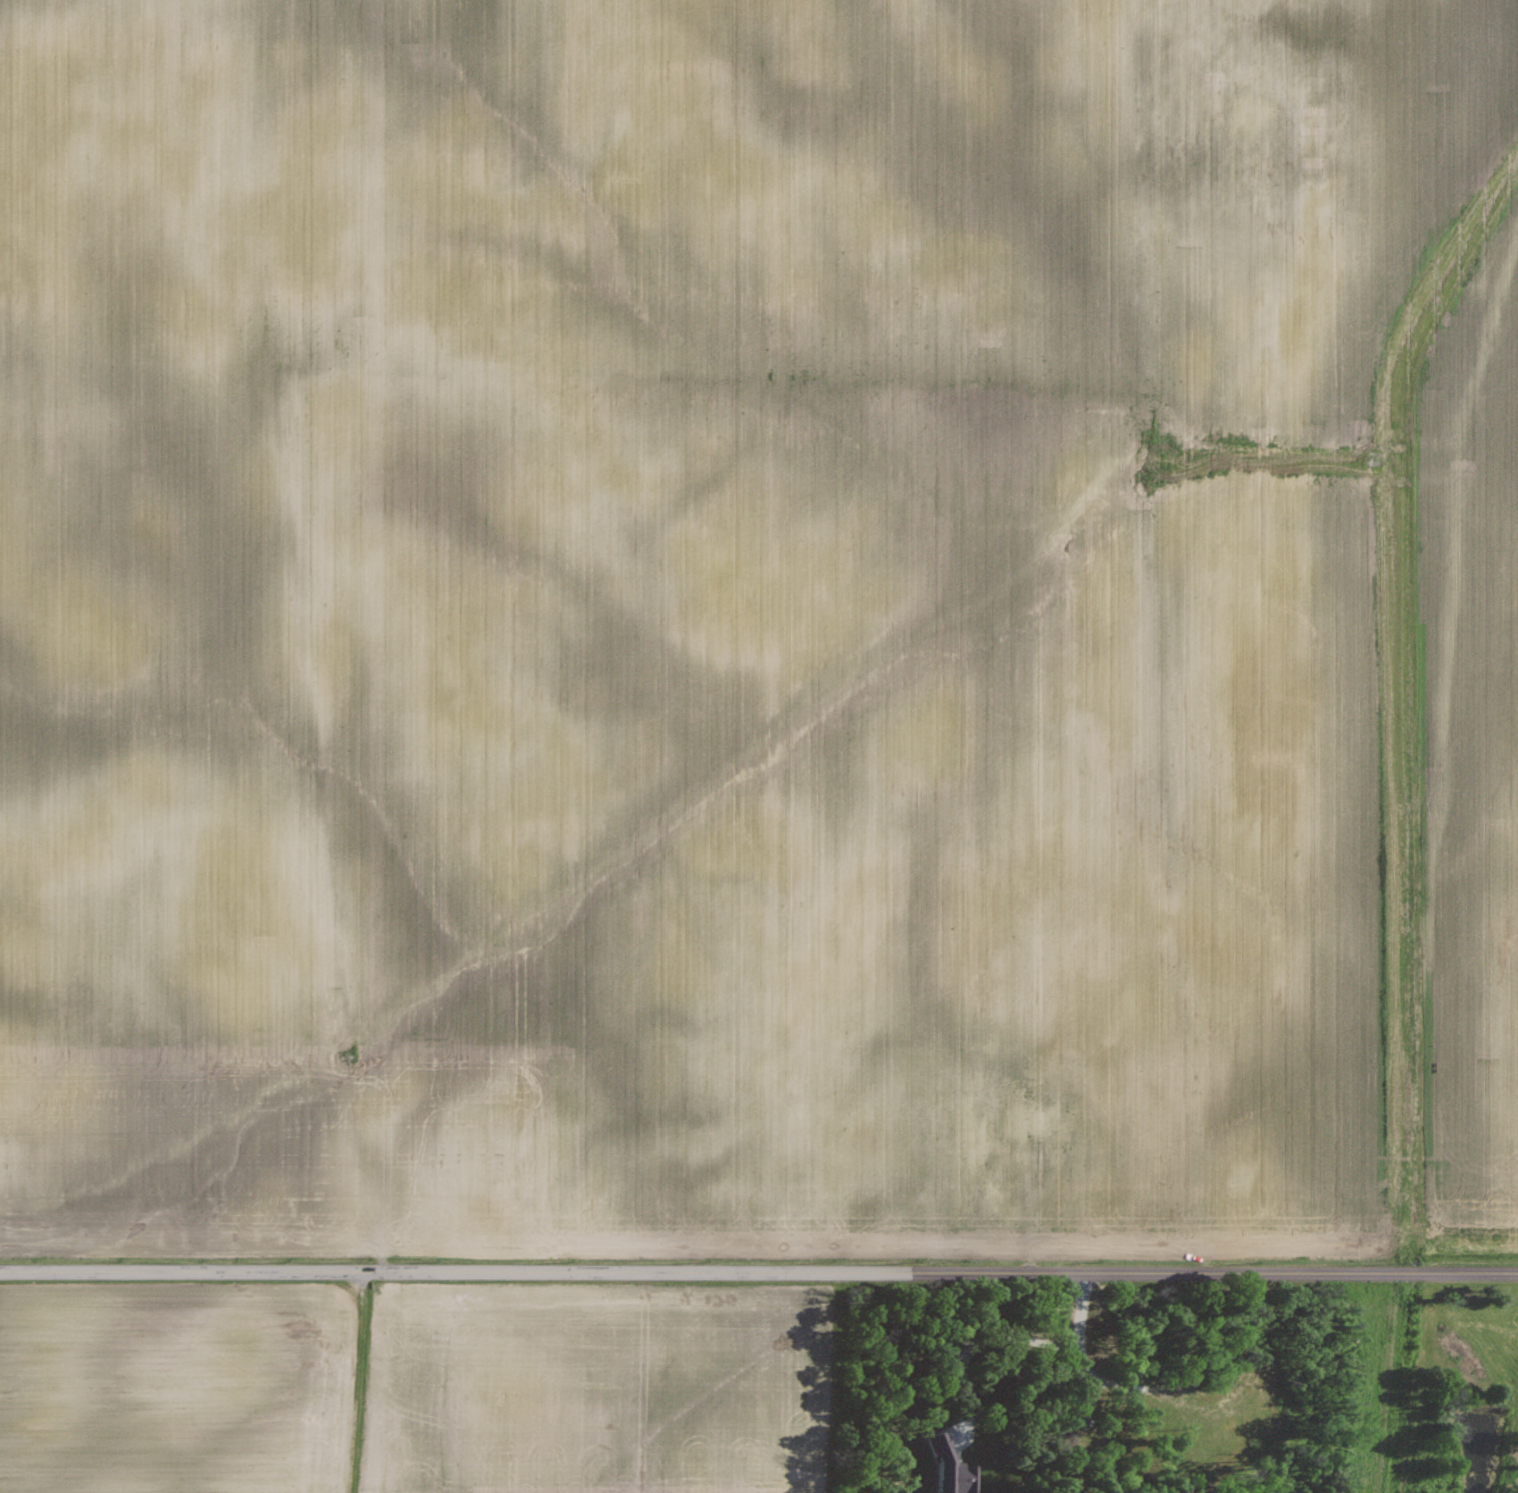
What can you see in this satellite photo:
road: (759, 1272)
road: (1010, 1334)
road: (353, 1382)
building: (945, 1467)

